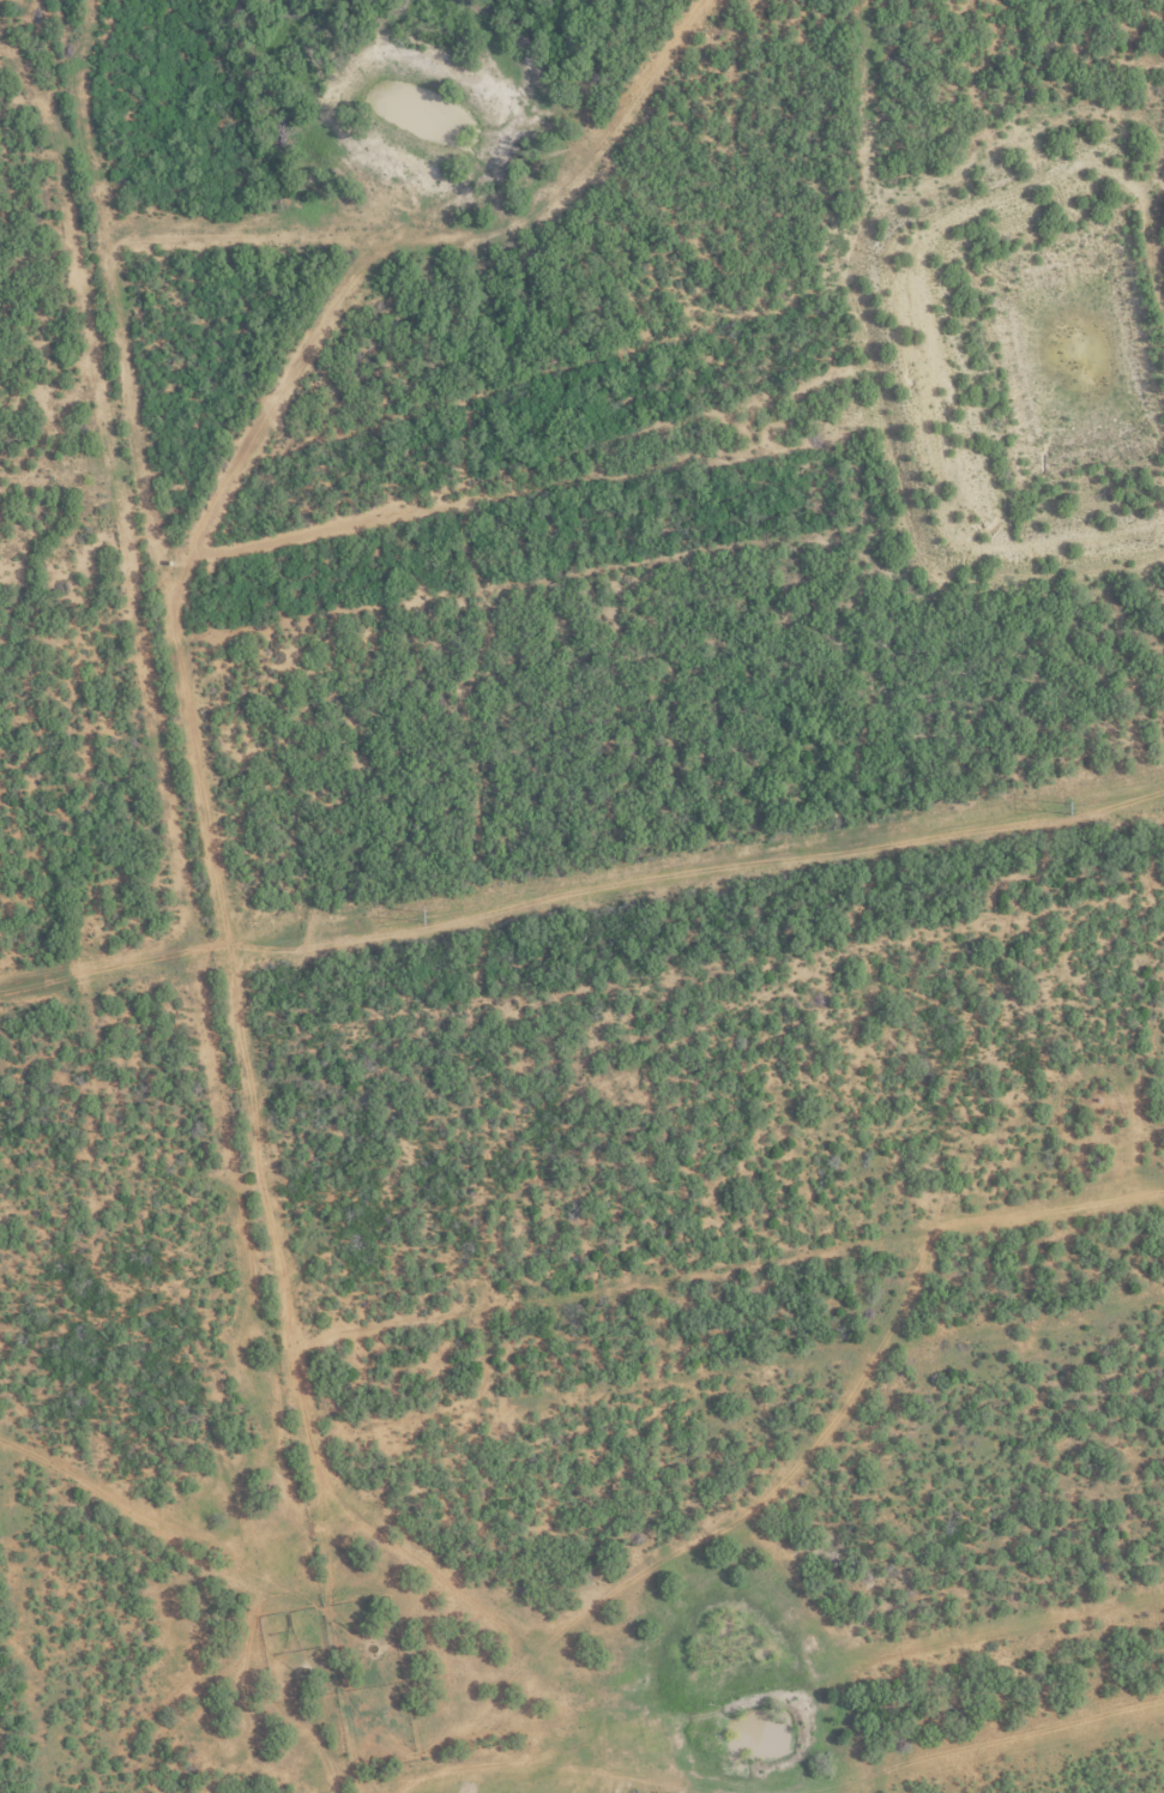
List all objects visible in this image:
power tower: (1067, 810)
power tower: (424, 916)

